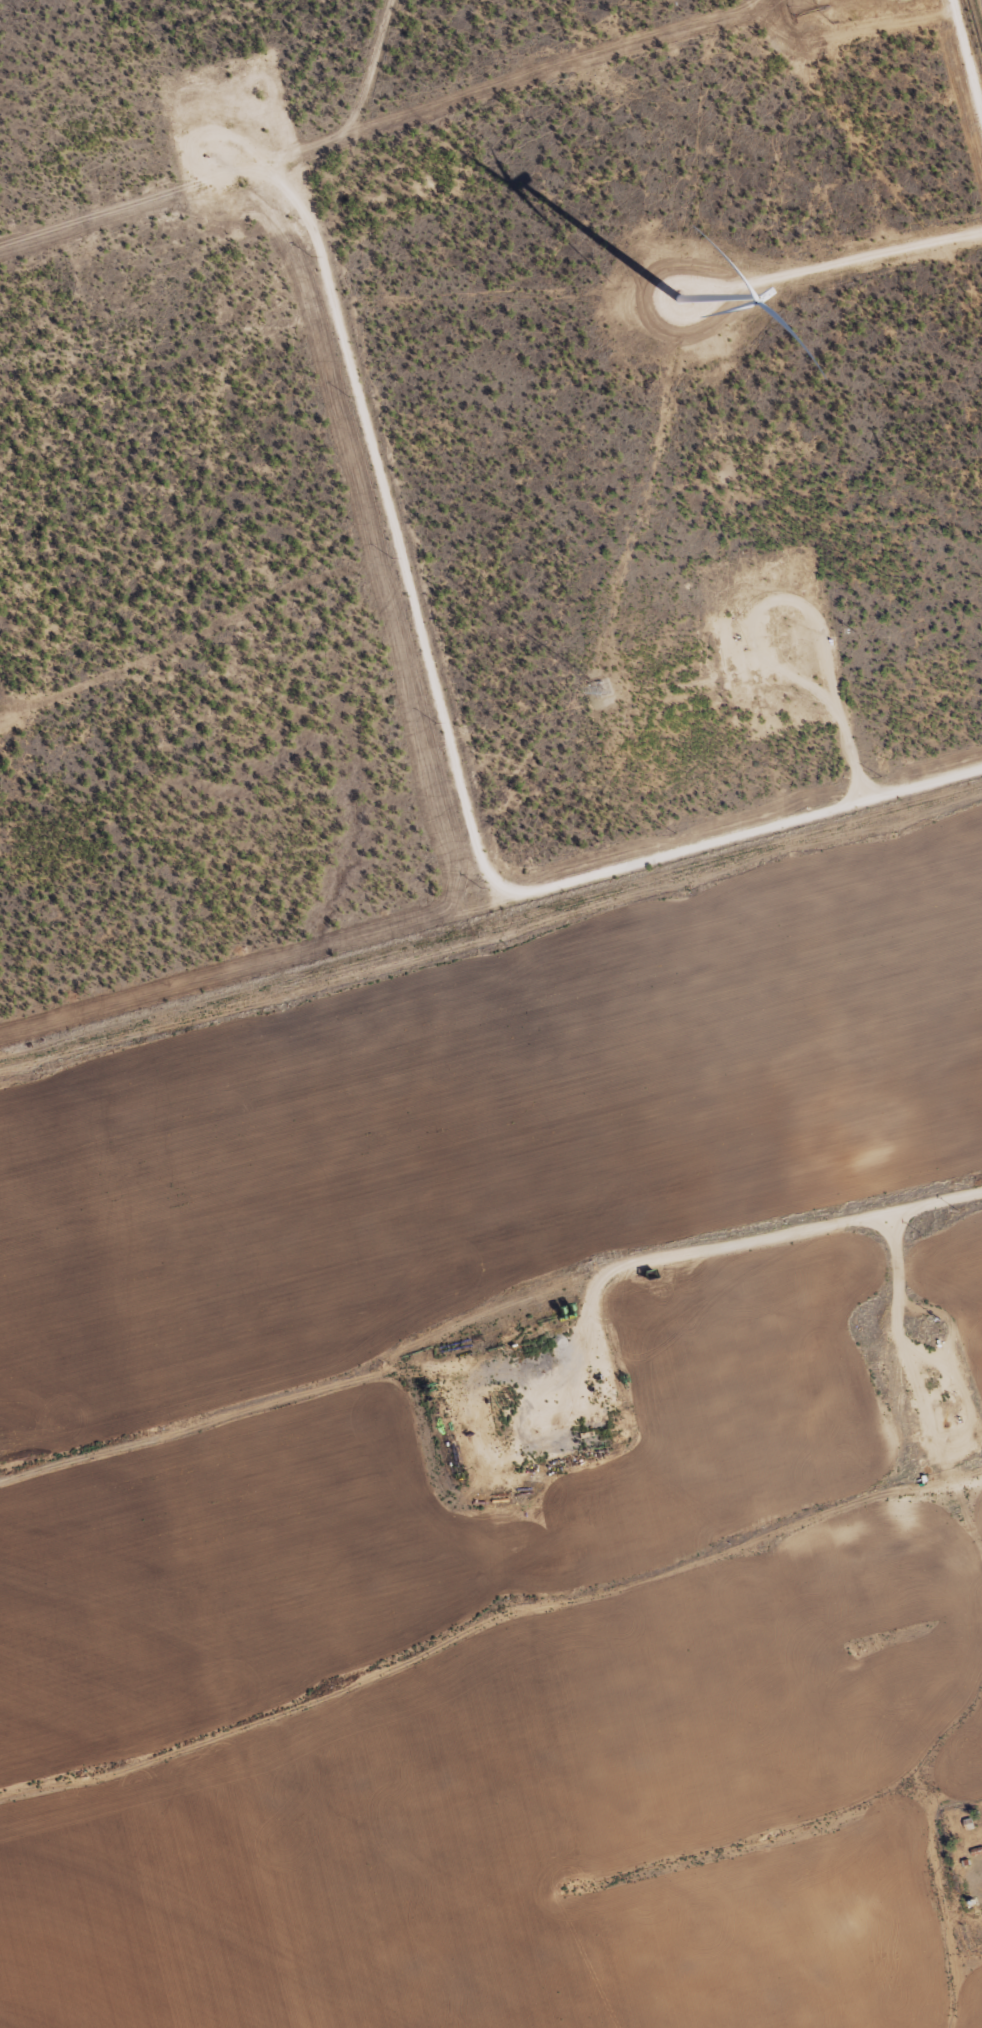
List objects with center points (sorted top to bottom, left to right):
wind turbine: (675, 297)

